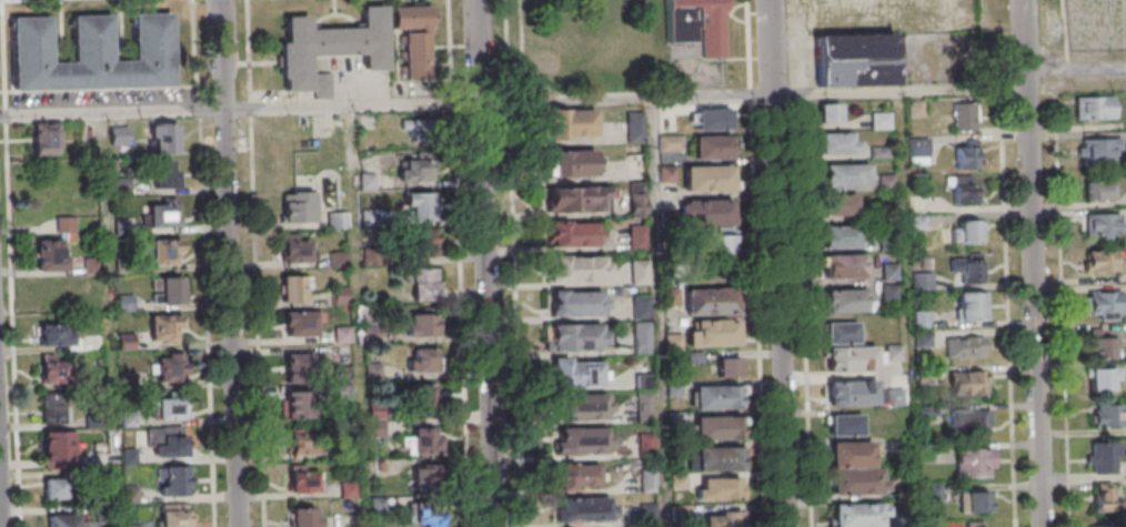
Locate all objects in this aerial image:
road: (21, 0)
road: (1, 1)
building: (697, 24)
building: (413, 38)
building: (827, 43)
building: (330, 49)
building: (95, 53)
building: (859, 57)
road: (1078, 70)
road: (905, 91)
road: (632, 100)
building: (1094, 108)
road: (242, 111)
building: (830, 112)
building: (965, 115)
building: (717, 118)
building: (881, 120)
building: (575, 122)
building: (420, 131)
building: (163, 138)
building: (44, 140)
building: (670, 142)
building: (843, 143)
building: (716, 145)
building: (879, 151)
building: (1098, 151)
building: (918, 152)
building: (965, 154)
building: (572, 163)
building: (418, 171)
building: (165, 173)
building: (666, 173)
building: (851, 173)
building: (712, 178)
building: (962, 189)
building: (1098, 190)
building: (573, 199)
building: (637, 201)
building: (840, 204)
building: (296, 206)
building: (419, 206)
building: (712, 212)
building: (162, 214)
building: (335, 220)
building: (66, 224)
building: (1103, 226)
building: (966, 231)
building: (572, 234)
building: (841, 235)
building: (637, 236)
building: (422, 243)
building: (718, 243)
building: (294, 250)
building: (165, 252)
building: (51, 254)
building: (1102, 261)
road: (207, 263)
road: (233, 263)
road: (260, 263)
road: (491, 263)
road: (760, 263)
road: (784, 263)
road: (806, 263)
road: (1037, 263)
building: (848, 265)
building: (967, 267)
building: (581, 268)
building: (639, 272)
building: (923, 280)
building: (424, 284)
building: (293, 288)
building: (167, 290)
building: (671, 295)
building: (844, 300)
building: (715, 301)
building: (586, 304)
building: (1106, 304)
building: (971, 305)
building: (640, 306)
road: (1012, 306)
road: (1066, 312)
building: (301, 323)
building: (420, 324)
building: (165, 327)
building: (717, 332)
building: (845, 332)
building: (54, 335)
building: (584, 337)
building: (642, 337)
building: (964, 346)
building: (1100, 346)
building: (422, 359)
building: (848, 361)
building: (295, 366)
building: (728, 366)
building: (169, 367)
building: (54, 369)
building: (579, 374)
building: (1102, 378)
building: (967, 383)
building: (856, 393)
building: (419, 396)
building: (721, 397)
building: (295, 404)
building: (587, 406)
building: (170, 408)
building: (54, 409)
building: (644, 414)
building: (1107, 415)
building: (678, 416)
building: (845, 424)
building: (974, 424)
building: (721, 427)
building: (582, 439)
building: (422, 440)
building: (302, 442)
building: (646, 444)
building: (170, 445)
building: (57, 448)
road: (2, 454)
building: (856, 455)
building: (1104, 457)
building: (723, 459)
building: (975, 463)
building: (584, 475)
building: (425, 477)
building: (303, 479)
building: (173, 480)
building: (649, 480)
building: (862, 483)
building: (54, 488)
building: (723, 489)
building: (1103, 497)
building: (975, 501)
building: (587, 509)
building: (428, 514)
building: (173, 515)
building: (863, 515)
building: (304, 517)
building: (724, 519)
building: (71, 520)
building: (977, 524)
building: (1103, 526)

